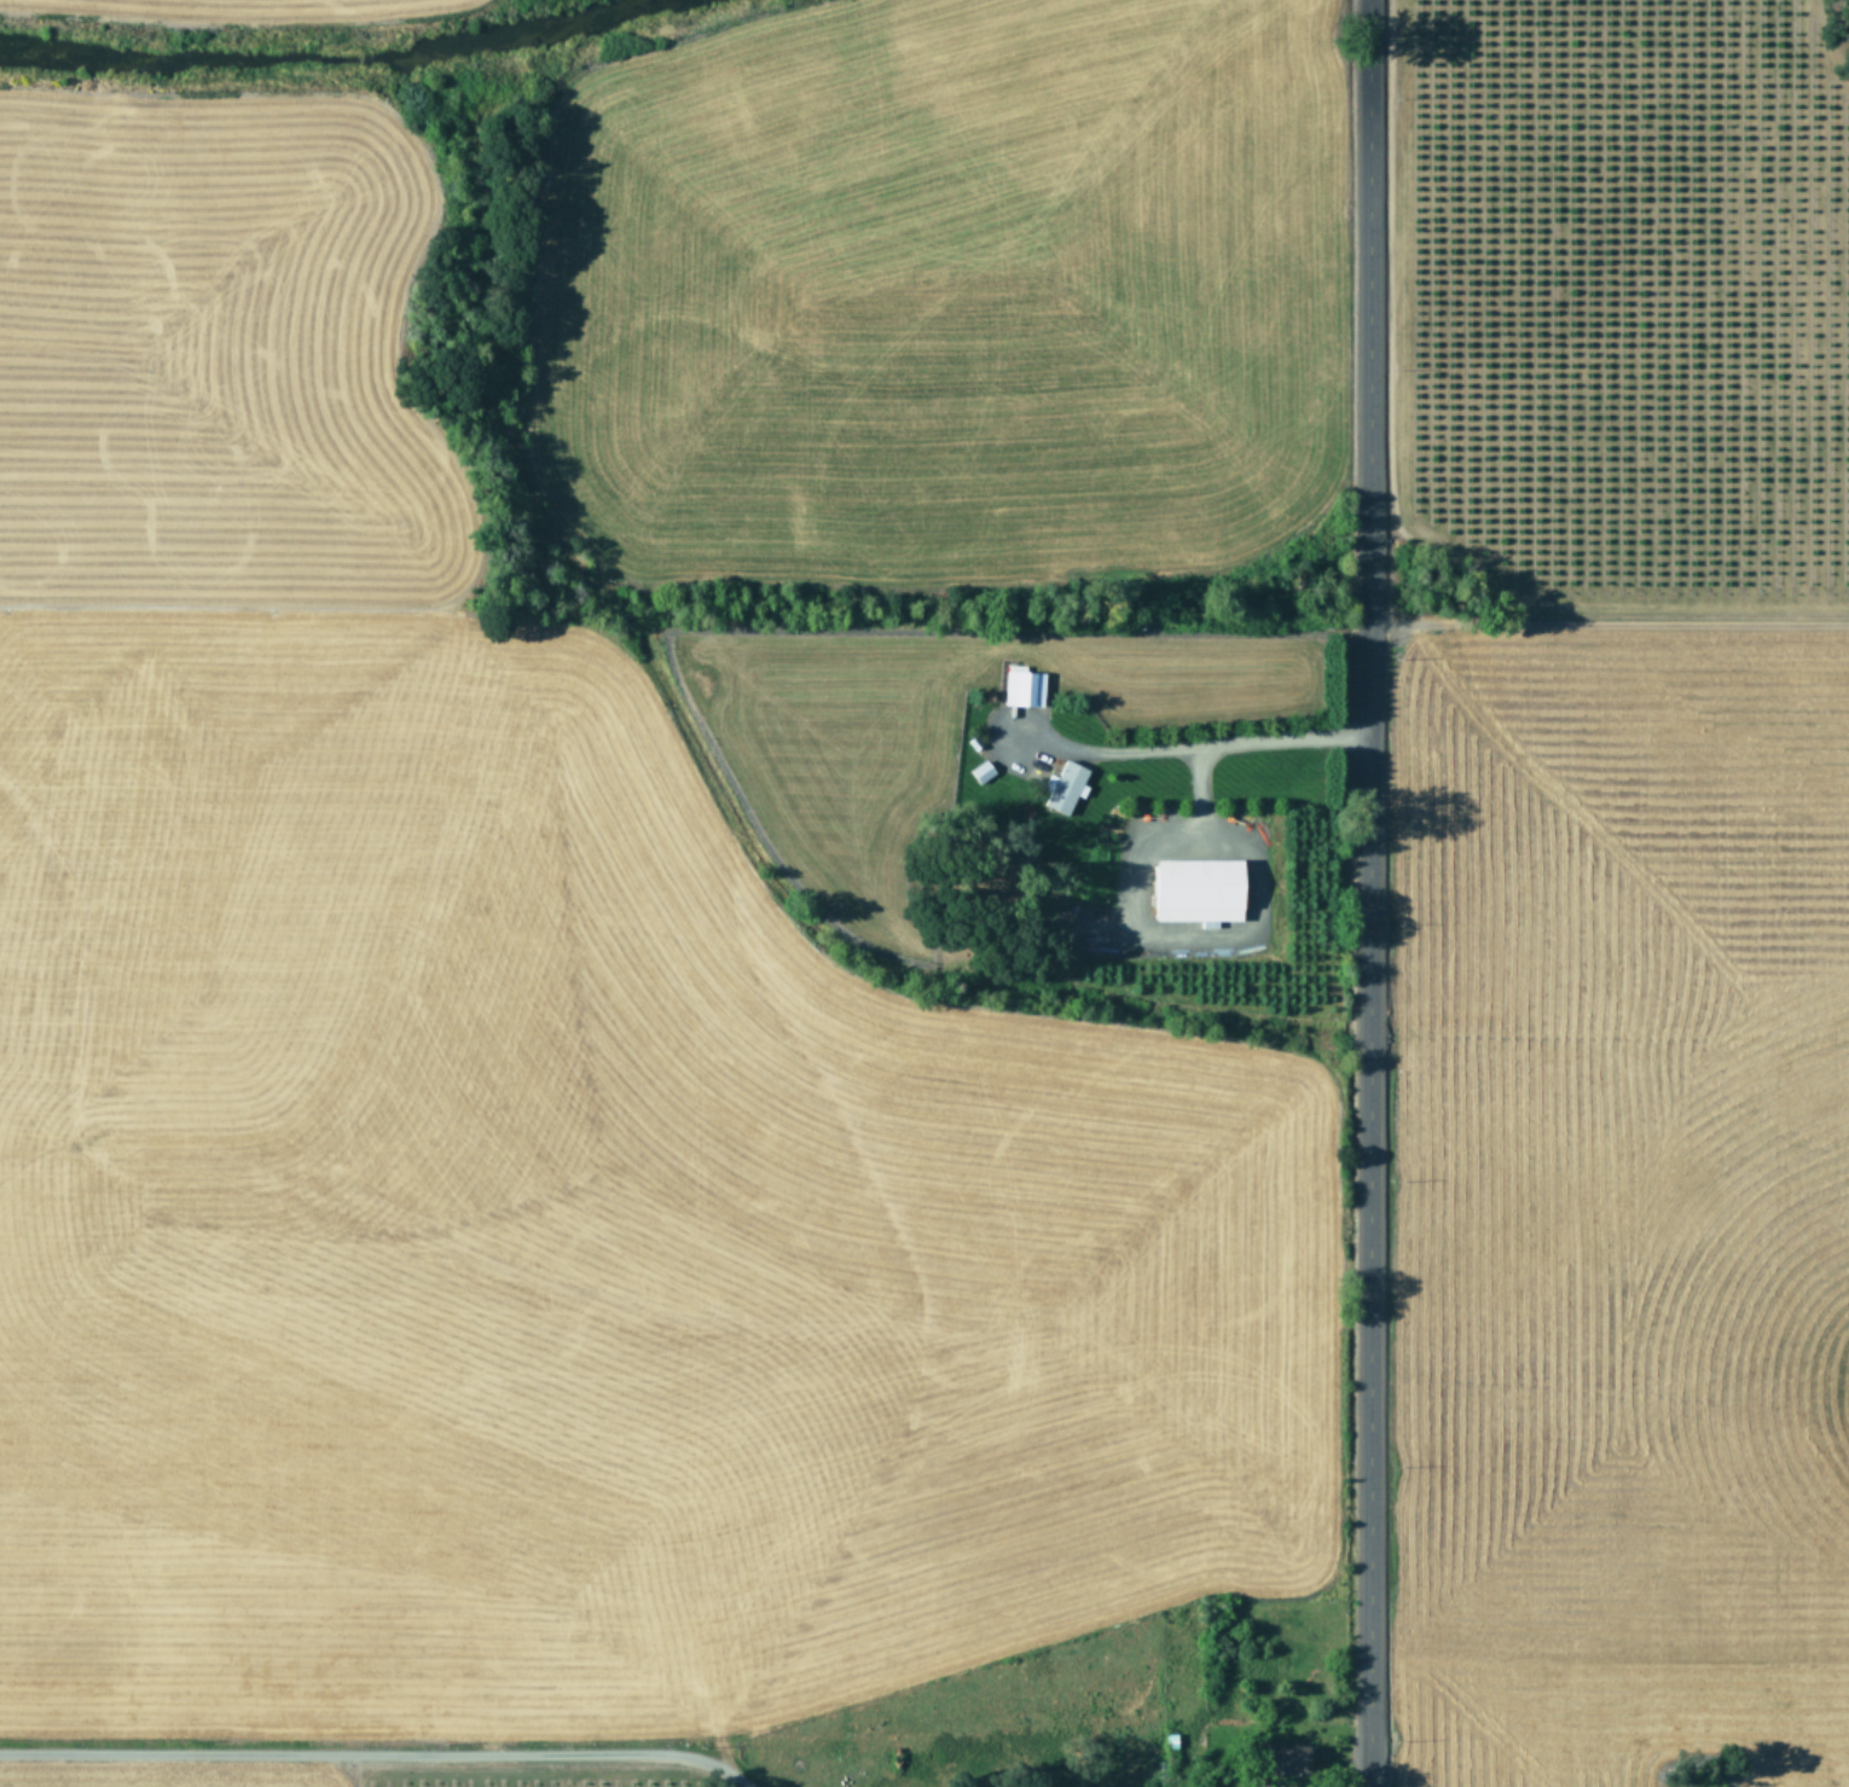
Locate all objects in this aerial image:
building: (1022, 686)
road: (1194, 747)
building: (980, 771)
building: (1063, 785)
building: (1199, 890)
road: (1368, 893)
road: (377, 1752)
building: (1283, 1758)

